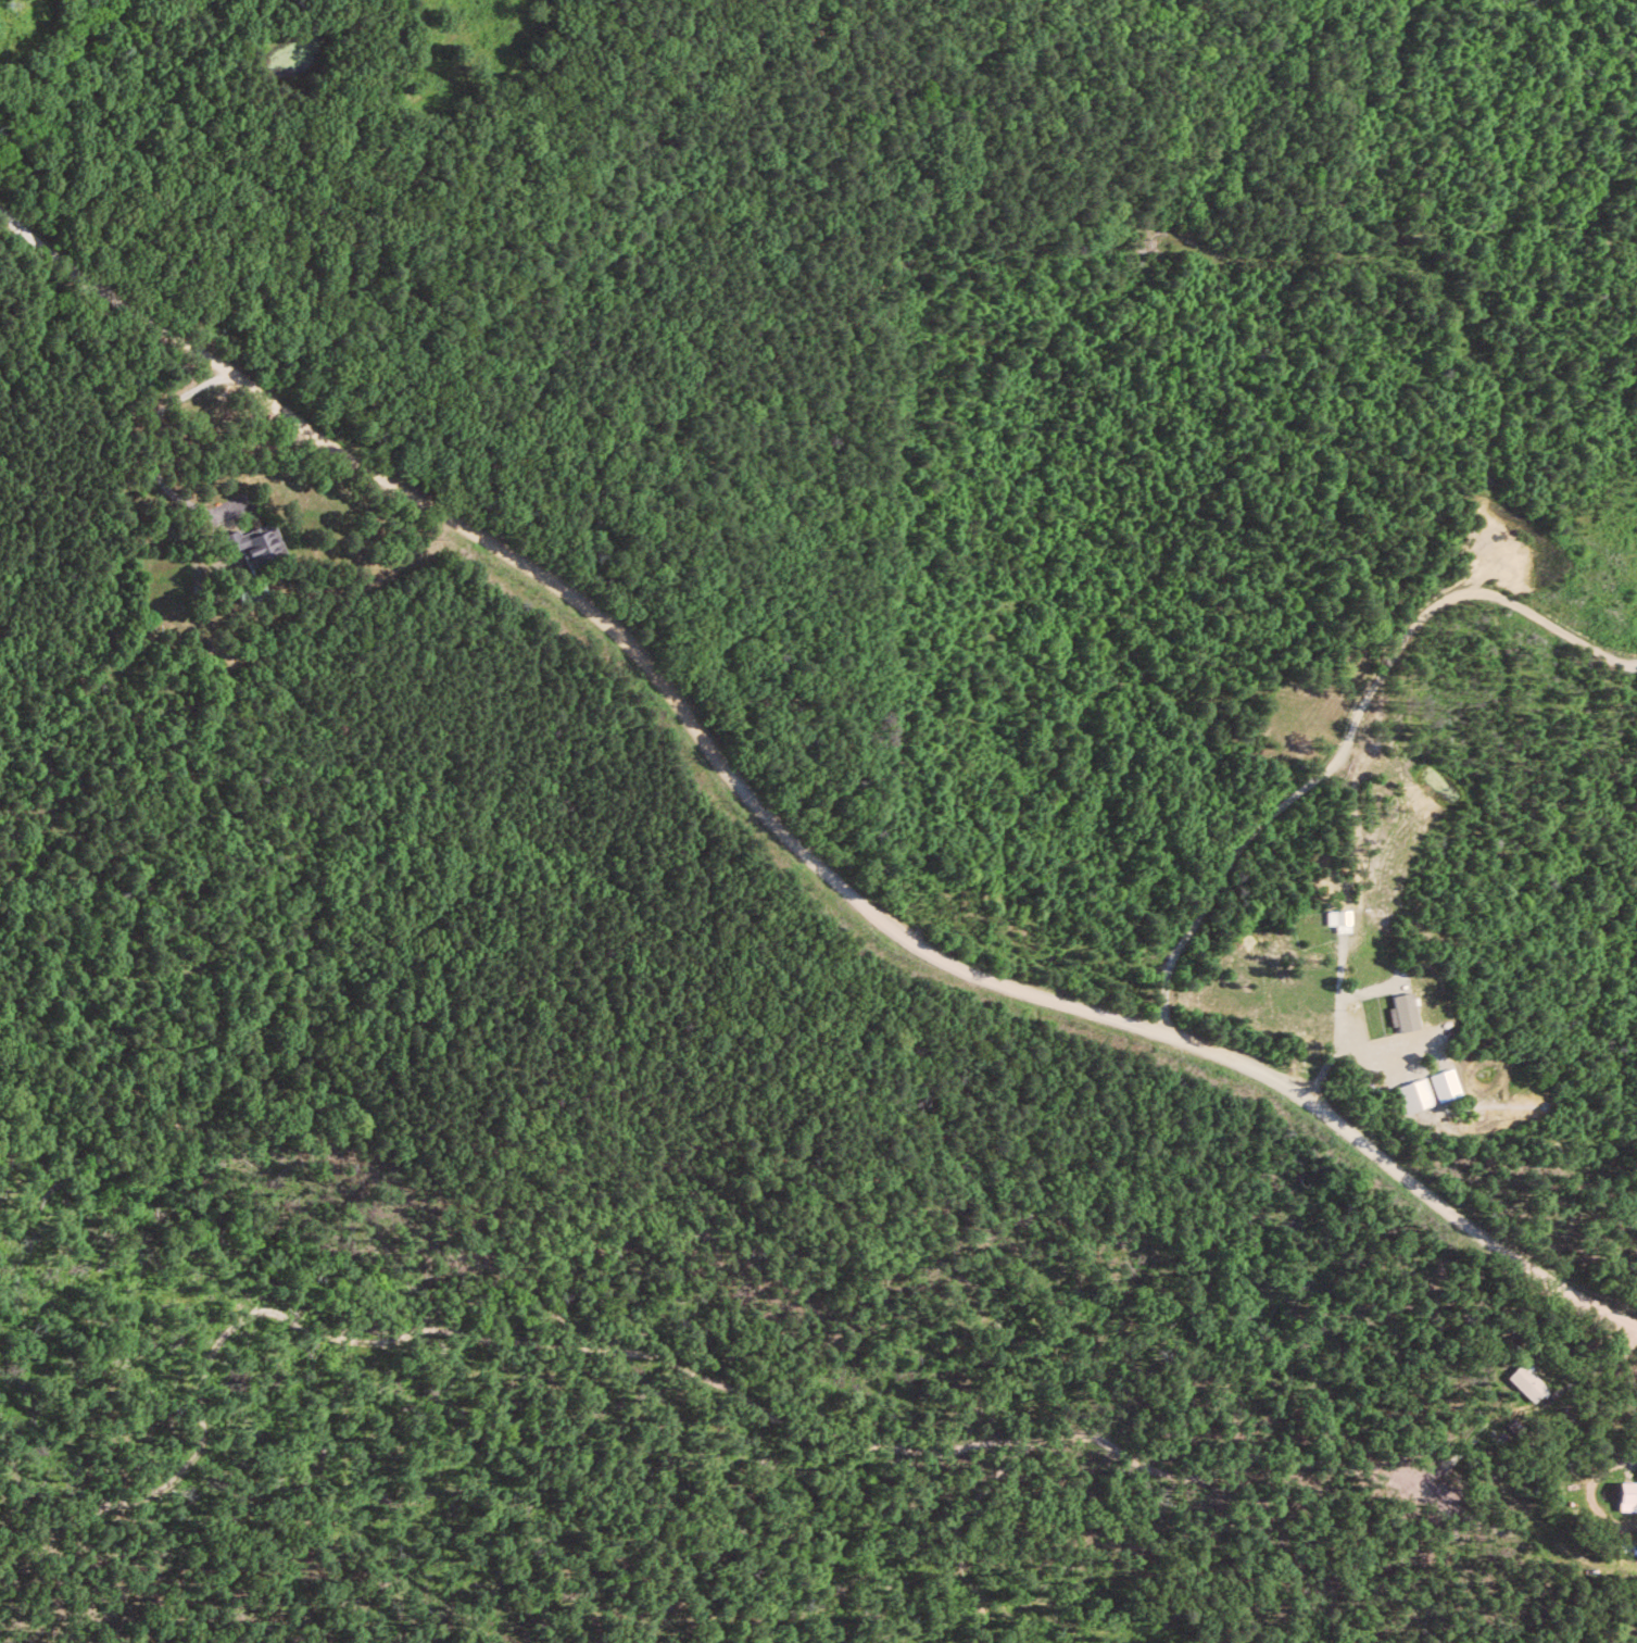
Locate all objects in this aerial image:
road: (1479, 455)
road: (1457, 487)
building: (253, 541)
road: (369, 576)
road: (1501, 678)
road: (1355, 726)
road: (773, 836)
building: (1339, 919)
building: (1405, 1011)
building: (1446, 1083)
building: (1415, 1094)
building: (1532, 1381)
road: (1587, 1490)
building: (1628, 1496)

